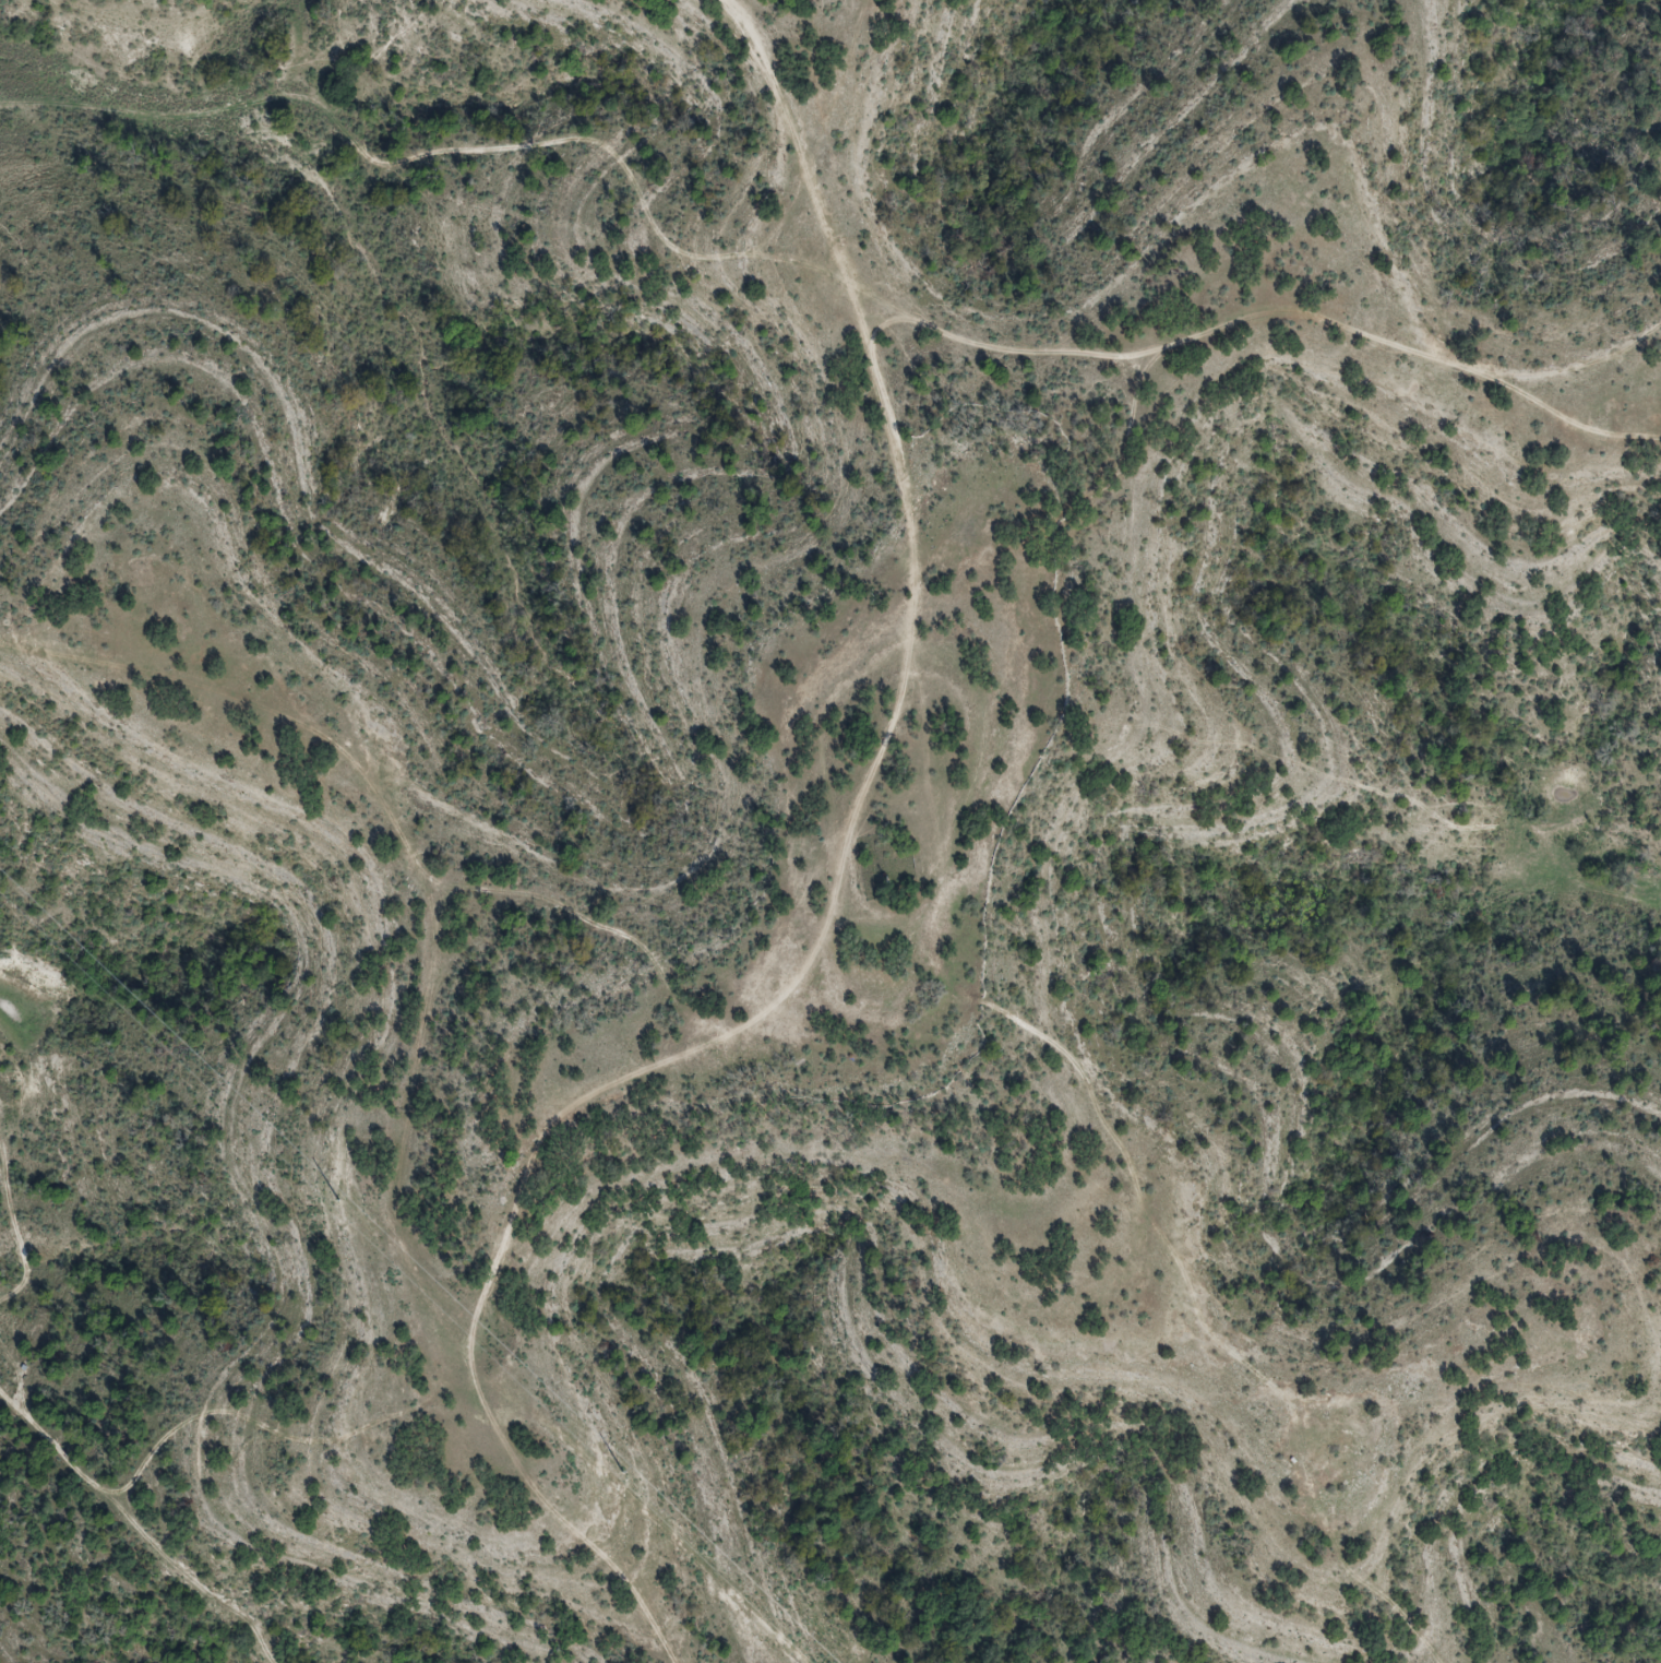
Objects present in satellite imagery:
power tower: (338, 1200)
power tower: (622, 1472)

